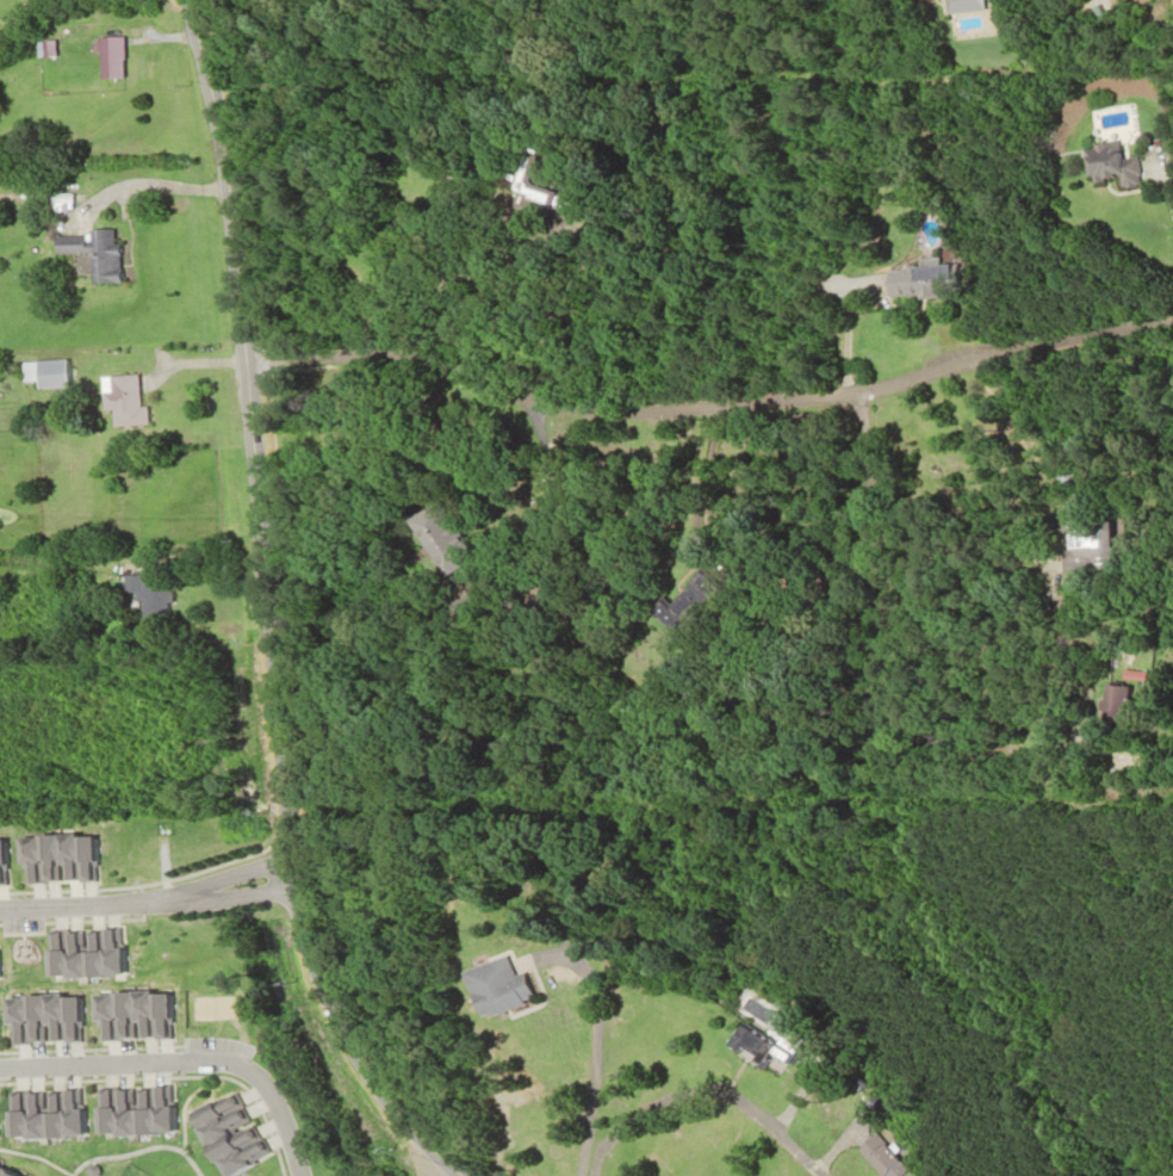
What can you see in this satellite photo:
building: (926, 0)
building: (958, 1)
building: (108, 58)
building: (1107, 163)
building: (522, 182)
building: (94, 254)
building: (914, 281)
road: (840, 340)
building: (43, 373)
building: (122, 401)
road: (712, 404)
road: (867, 472)
road: (695, 488)
building: (1080, 544)
building: (442, 545)
building: (148, 593)
building: (685, 606)
road: (265, 607)
building: (1109, 710)
building: (54, 858)
building: (1, 861)
road: (147, 900)
building: (81, 953)
building: (496, 988)
building: (129, 1014)
building: (39, 1017)
building: (756, 1047)
road: (594, 1048)
road: (181, 1060)
road: (700, 1095)
building: (131, 1110)
building: (41, 1113)
building: (224, 1137)
building: (879, 1158)
building: (2, 1174)

